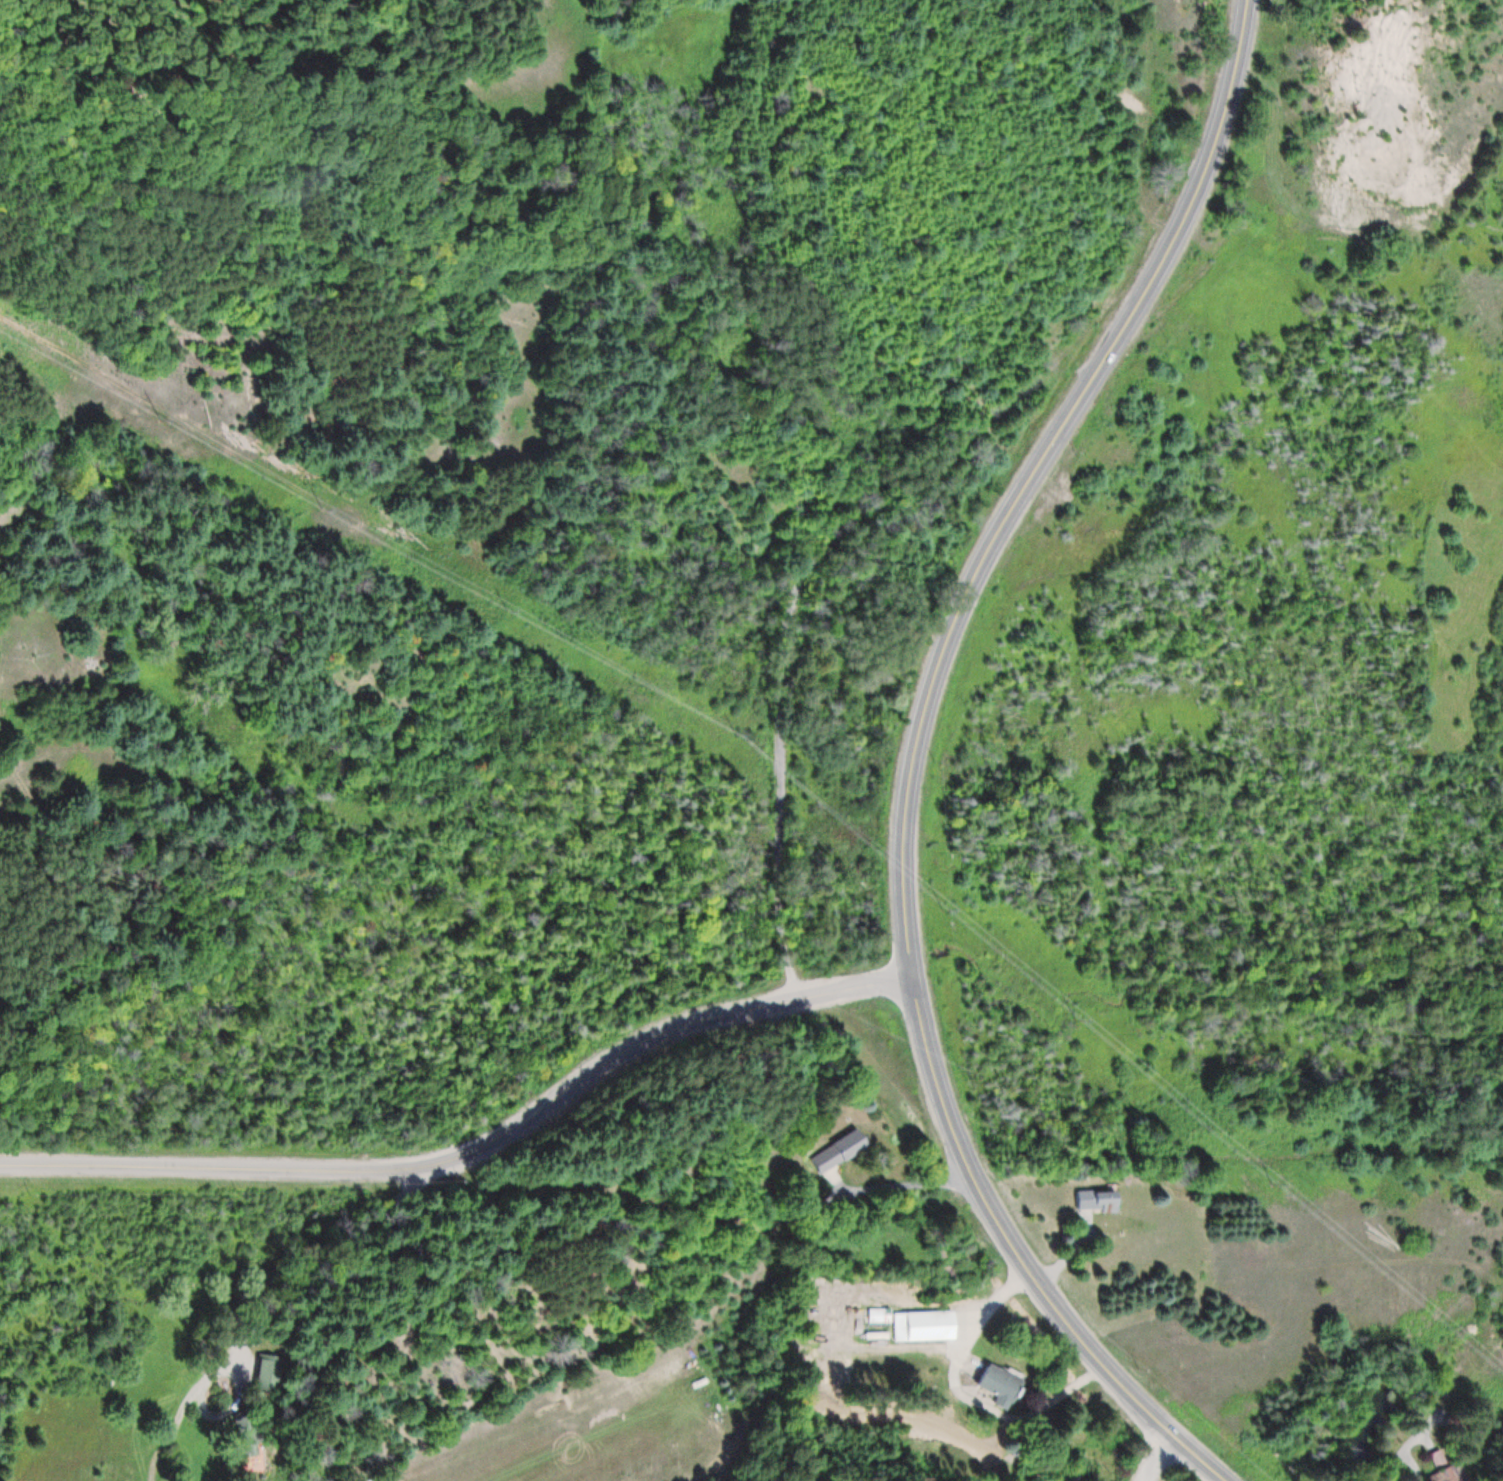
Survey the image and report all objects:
road: (914, 755)
road: (776, 788)
building: (843, 1151)
road: (477, 1156)
building: (1098, 1201)
road: (317, 1274)
building: (876, 1315)
building: (926, 1326)
building: (1002, 1384)
road: (1158, 1458)

